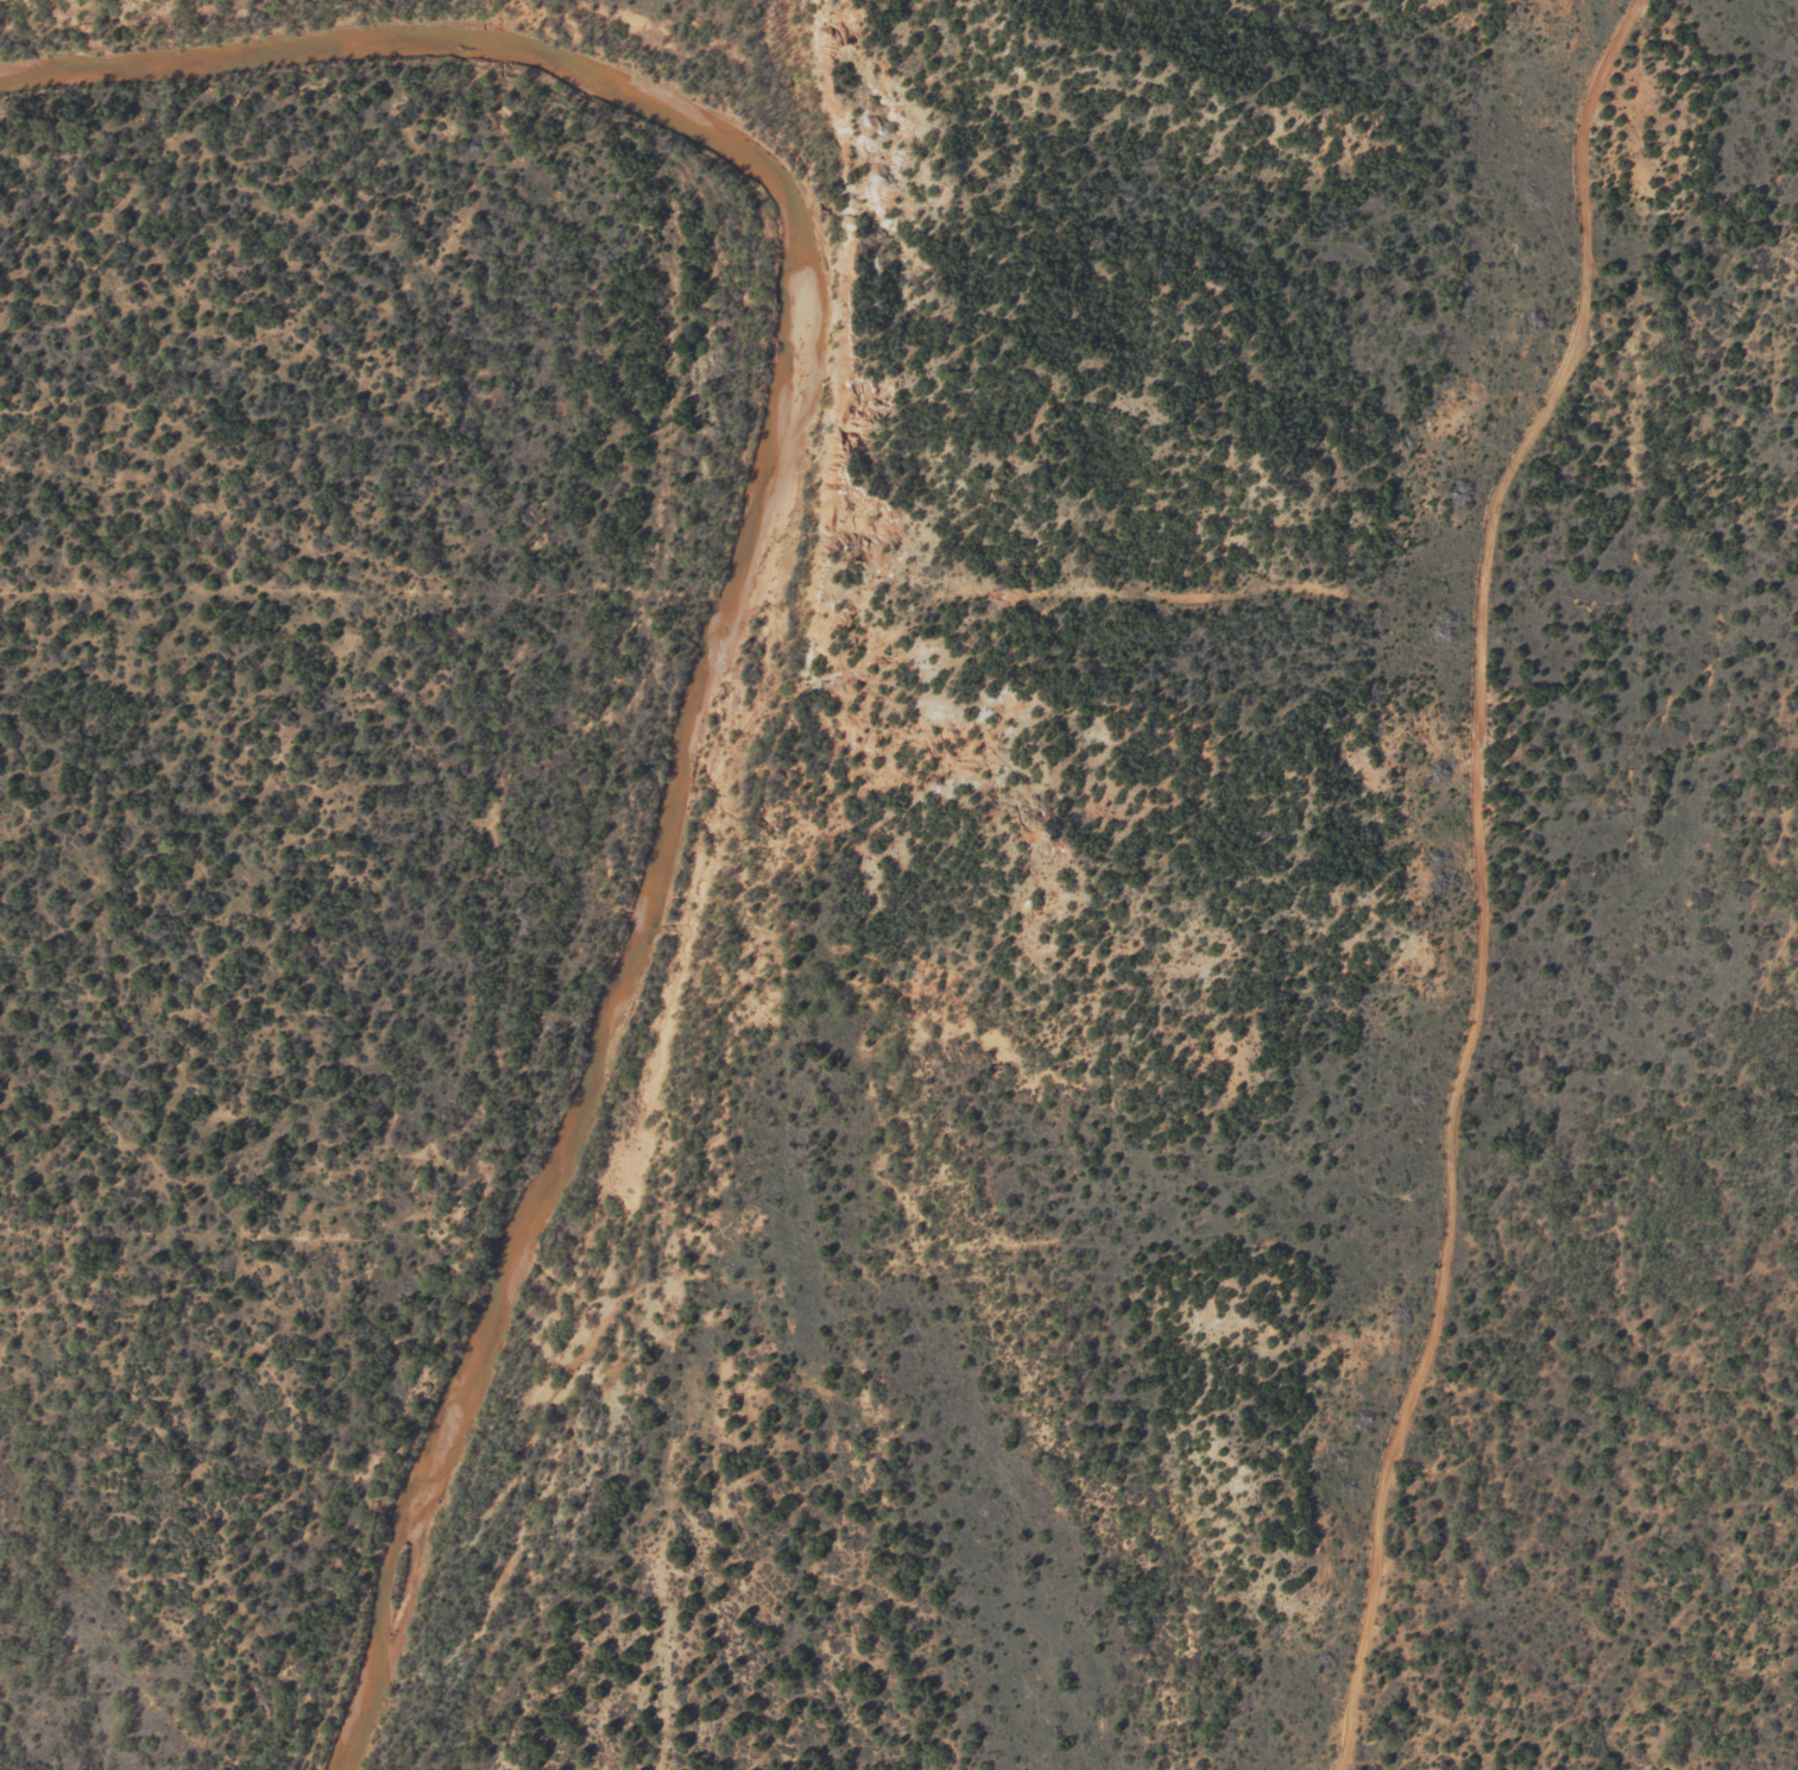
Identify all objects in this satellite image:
river: (728, 594)

